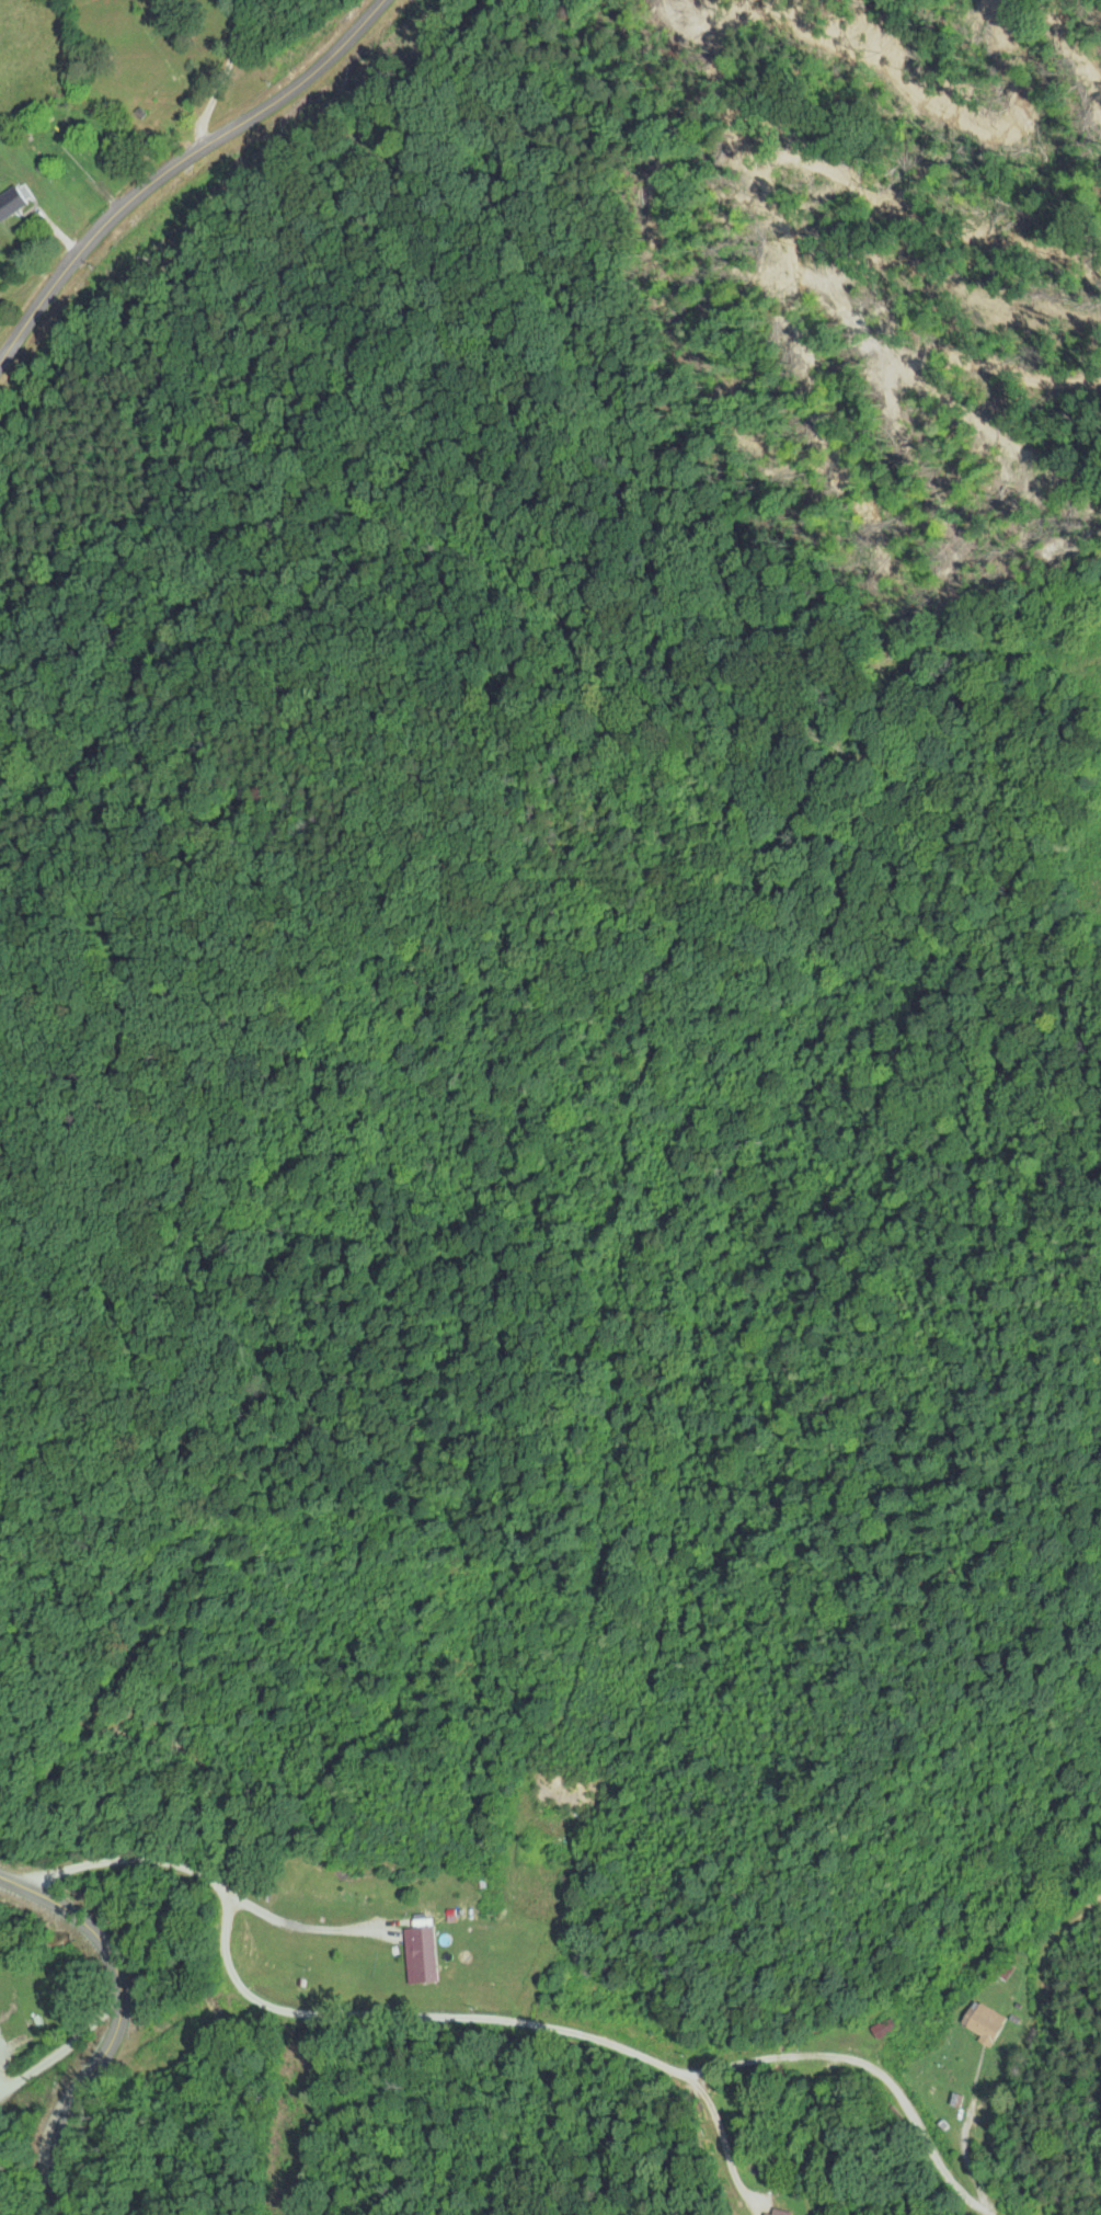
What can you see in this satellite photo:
road: (175, 167)
building: (16, 204)
building: (424, 1955)
building: (1009, 1972)
road: (491, 2019)
road: (118, 2022)
building: (988, 2022)
road: (56, 2060)

